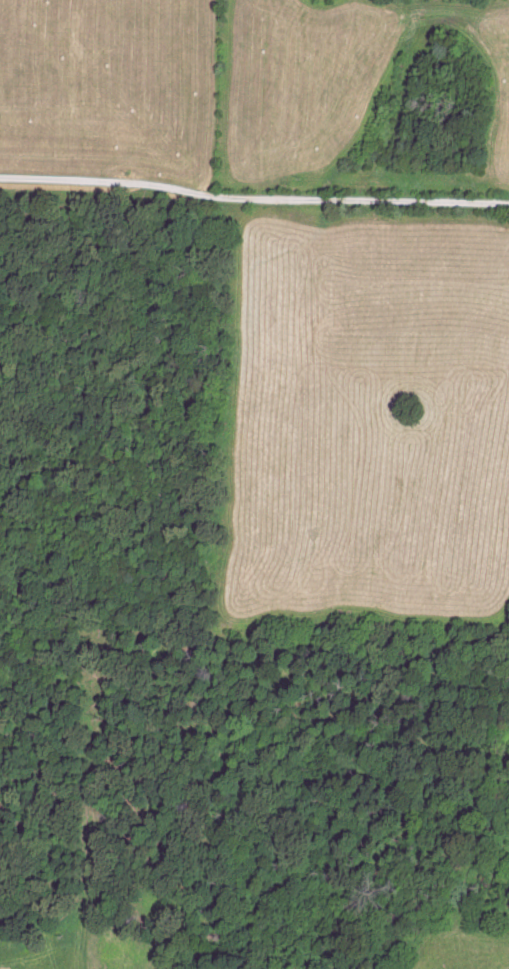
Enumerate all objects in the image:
road: (253, 200)

